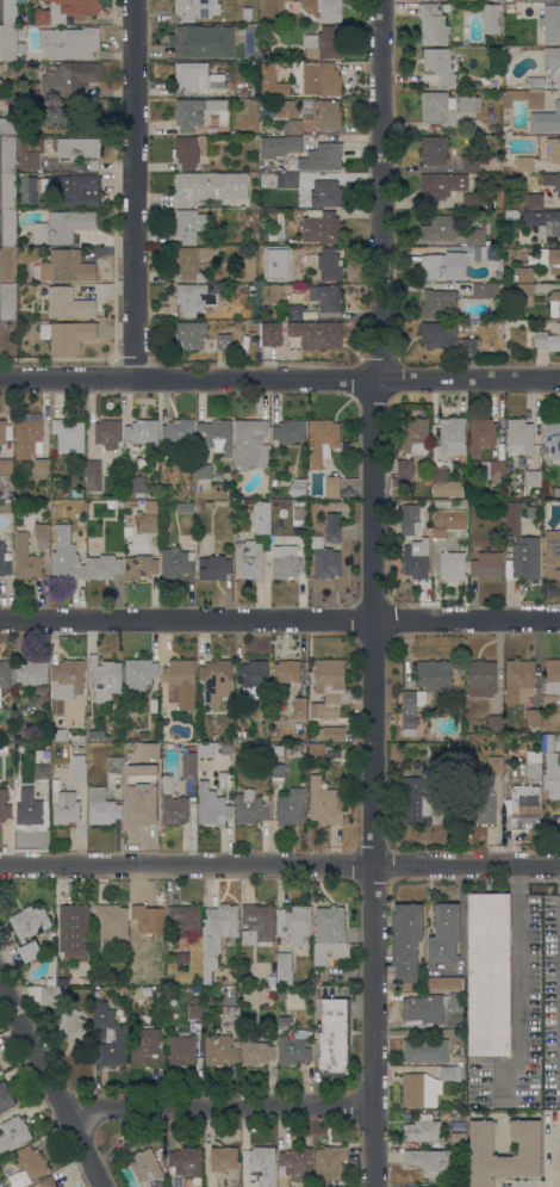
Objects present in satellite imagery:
building: (510, 7)
building: (197, 8)
building: (66, 10)
building: (329, 10)
building: (10, 12)
building: (247, 12)
building: (491, 18)
building: (19, 20)
building: (550, 23)
building: (433, 24)
building: (21, 30)
building: (203, 41)
building: (69, 42)
building: (10, 43)
building: (328, 44)
building: (21, 48)
building: (552, 61)
building: (438, 64)
building: (24, 66)
building: (8, 68)
building: (195, 76)
building: (68, 78)
building: (328, 79)
building: (272, 80)
building: (535, 82)
building: (295, 88)
road: (556, 95)
building: (524, 98)
building: (467, 103)
building: (435, 105)
building: (286, 109)
building: (514, 109)
building: (195, 111)
building: (52, 113)
building: (329, 113)
building: (14, 120)
building: (545, 120)
building: (291, 126)
building: (506, 129)
building: (288, 143)
building: (434, 149)
building: (553, 149)
building: (80, 150)
building: (186, 152)
building: (30, 153)
building: (8, 154)
building: (323, 157)
building: (469, 162)
building: (524, 162)
building: (205, 167)
building: (287, 180)
building: (552, 180)
building: (443, 185)
building: (209, 186)
building: (30, 188)
building: (8, 191)
building: (80, 191)
road: (132, 191)
building: (322, 194)
building: (469, 200)
building: (534, 200)
building: (487, 203)
building: (42, 204)
building: (254, 204)
building: (295, 214)
building: (512, 214)
building: (255, 215)
building: (543, 221)
building: (187, 225)
building: (63, 227)
building: (322, 227)
building: (509, 227)
building: (8, 228)
building: (438, 229)
building: (276, 230)
building: (475, 234)
building: (268, 259)
building: (549, 259)
building: (194, 261)
building: (455, 261)
building: (329, 264)
building: (7, 265)
building: (64, 266)
building: (249, 266)
building: (500, 266)
building: (524, 274)
building: (514, 277)
building: (253, 286)
building: (485, 290)
building: (525, 293)
building: (326, 297)
building: (194, 298)
building: (7, 302)
building: (438, 302)
building: (64, 303)
building: (554, 303)
building: (263, 309)
building: (295, 311)
building: (499, 324)
building: (251, 326)
building: (270, 333)
building: (189, 334)
building: (317, 334)
building: (438, 334)
building: (67, 335)
building: (499, 335)
building: (547, 339)
building: (223, 340)
building: (469, 345)
road: (280, 382)
building: (288, 429)
building: (5, 431)
building: (142, 431)
building: (178, 431)
building: (108, 433)
building: (69, 434)
building: (481, 434)
building: (217, 435)
building: (415, 435)
building: (452, 435)
building: (519, 435)
building: (552, 440)
building: (323, 441)
building: (250, 444)
building: (32, 446)
building: (147, 463)
building: (6, 465)
building: (492, 470)
building: (204, 471)
building: (404, 472)
building: (94, 476)
building: (533, 477)
building: (200, 482)
building: (443, 484)
building: (474, 484)
building: (132, 486)
building: (298, 487)
building: (332, 487)
building: (77, 492)
building: (554, 492)
building: (185, 493)
building: (6, 495)
building: (119, 502)
building: (130, 503)
building: (209, 503)
building: (267, 503)
building: (151, 506)
building: (8, 507)
building: (185, 507)
building: (512, 518)
building: (409, 519)
building: (147, 523)
building: (262, 524)
building: (334, 527)
building: (42, 530)
building: (443, 530)
building: (552, 554)
building: (26, 558)
building: (416, 558)
building: (525, 558)
building: (249, 560)
building: (5, 562)
building: (286, 562)
building: (326, 562)
building: (176, 563)
building: (67, 564)
building: (452, 565)
building: (487, 565)
building: (104, 567)
building: (141, 567)
building: (214, 567)
road: (373, 593)
road: (280, 620)
building: (31, 672)
building: (285, 672)
building: (5, 674)
building: (139, 674)
building: (251, 674)
building: (434, 675)
building: (552, 676)
building: (105, 678)
building: (481, 678)
building: (216, 679)
building: (519, 680)
building: (66, 682)
building: (180, 682)
building: (328, 687)
building: (548, 700)
building: (153, 705)
building: (299, 706)
building: (411, 710)
building: (533, 717)
building: (494, 723)
building: (92, 732)
building: (142, 734)
building: (241, 734)
building: (330, 734)
building: (58, 735)
building: (214, 736)
building: (77, 738)
building: (461, 738)
building: (549, 742)
building: (4, 748)
building: (205, 749)
building: (149, 750)
building: (316, 752)
building: (533, 763)
building: (114, 765)
building: (189, 765)
building: (494, 765)
building: (79, 768)
building: (153, 768)
building: (278, 769)
building: (42, 772)
building: (222, 775)
building: (552, 775)
building: (415, 802)
building: (138, 803)
building: (173, 803)
building: (325, 803)
building: (4, 805)
building: (212, 805)
building: (524, 805)
building: (27, 806)
building: (101, 806)
building: (64, 808)
building: (250, 808)
building: (291, 808)
building: (481, 809)
road: (280, 865)
building: (185, 917)
building: (111, 920)
building: (148, 920)
building: (294, 922)
building: (257, 923)
building: (29, 928)
building: (330, 929)
building: (74, 931)
building: (444, 933)
building: (217, 934)
building: (405, 940)
building: (181, 958)
building: (284, 967)
building: (52, 972)
building: (489, 973)
building: (317, 977)
building: (444, 983)
road: (518, 987)
building: (281, 995)
building: (197, 999)
building: (429, 1007)
building: (61, 1009)
building: (195, 1012)
building: (101, 1014)
building: (230, 1014)
parking lot: (527, 1014)
building: (285, 1021)
building: (334, 1037)
building: (148, 1046)
building: (114, 1049)
building: (293, 1049)
building: (181, 1050)
building: (425, 1050)
building: (220, 1051)
building: (256, 1051)
road: (52, 1082)
building: (427, 1086)
building: (5, 1096)
road: (219, 1109)
building: (422, 1129)
building: (13, 1132)
building: (459, 1139)
building: (481, 1148)
building: (0, 1155)
building: (223, 1158)
road: (552, 1158)
building: (260, 1160)
building: (430, 1161)
building: (31, 1162)
building: (295, 1162)
building: (330, 1162)
building: (185, 1166)
building: (145, 1167)
building: (559, 1170)
building: (44, 1182)
building: (336, 1186)
building: (421, 1186)
building: (461, 1186)

